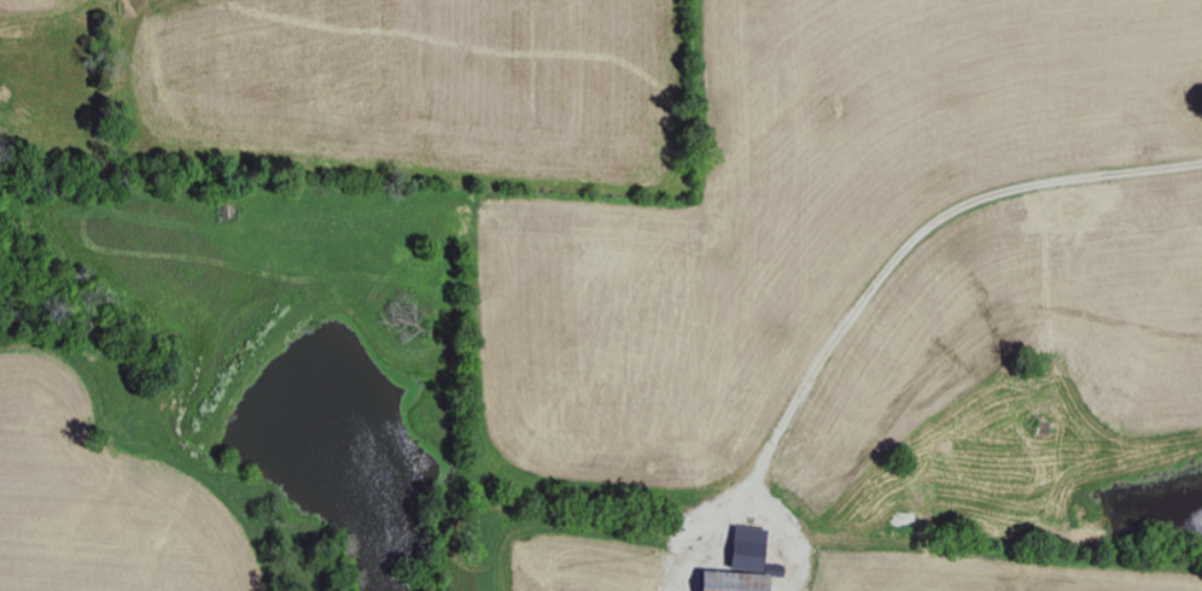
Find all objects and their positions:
road: (909, 241)
building: (749, 550)
building: (735, 583)

